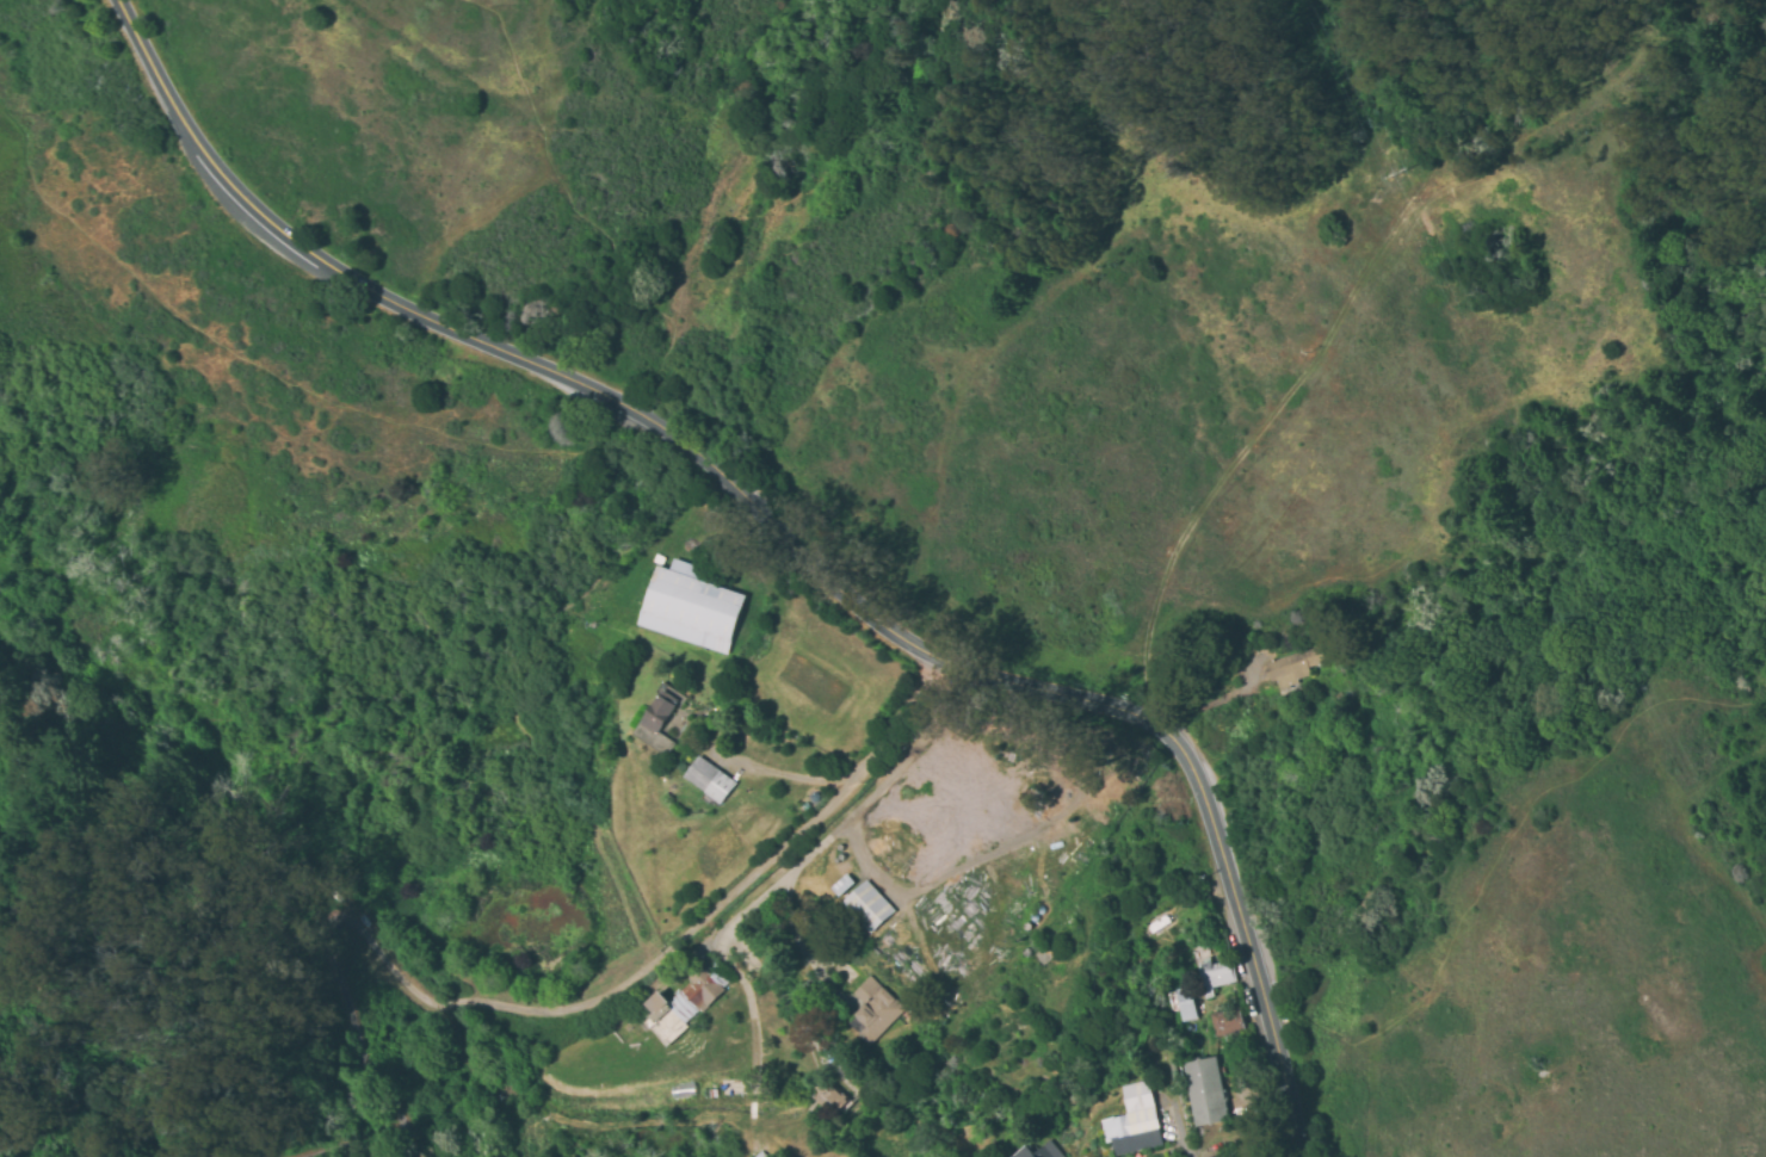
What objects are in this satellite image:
road: (494, 1)
road: (587, 219)
road: (273, 375)
road: (785, 536)
building: (690, 608)
building: (1292, 667)
building: (657, 719)
road: (900, 735)
building: (709, 779)
building: (842, 885)
building: (867, 907)
building: (1214, 975)
building: (683, 1003)
building: (1184, 1003)
building: (872, 1010)
building: (1225, 1023)
building: (1202, 1091)
building: (1132, 1121)
building: (1039, 1151)

